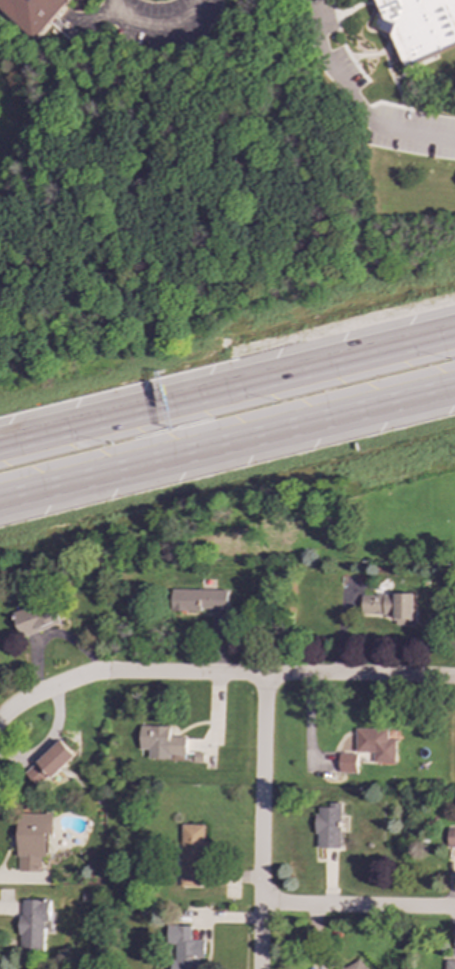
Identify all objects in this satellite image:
building: (32, 13)
building: (417, 25)
road: (154, 30)
road: (355, 101)
road: (227, 387)
road: (227, 444)
building: (198, 600)
building: (389, 606)
building: (37, 618)
road: (260, 675)
road: (31, 698)
building: (160, 742)
building: (374, 744)
building: (50, 763)
building: (346, 763)
road: (261, 822)
building: (329, 826)
building: (451, 838)
building: (33, 840)
building: (190, 855)
road: (357, 906)
building: (33, 924)
building: (183, 948)
building: (450, 964)
building: (355, 965)

